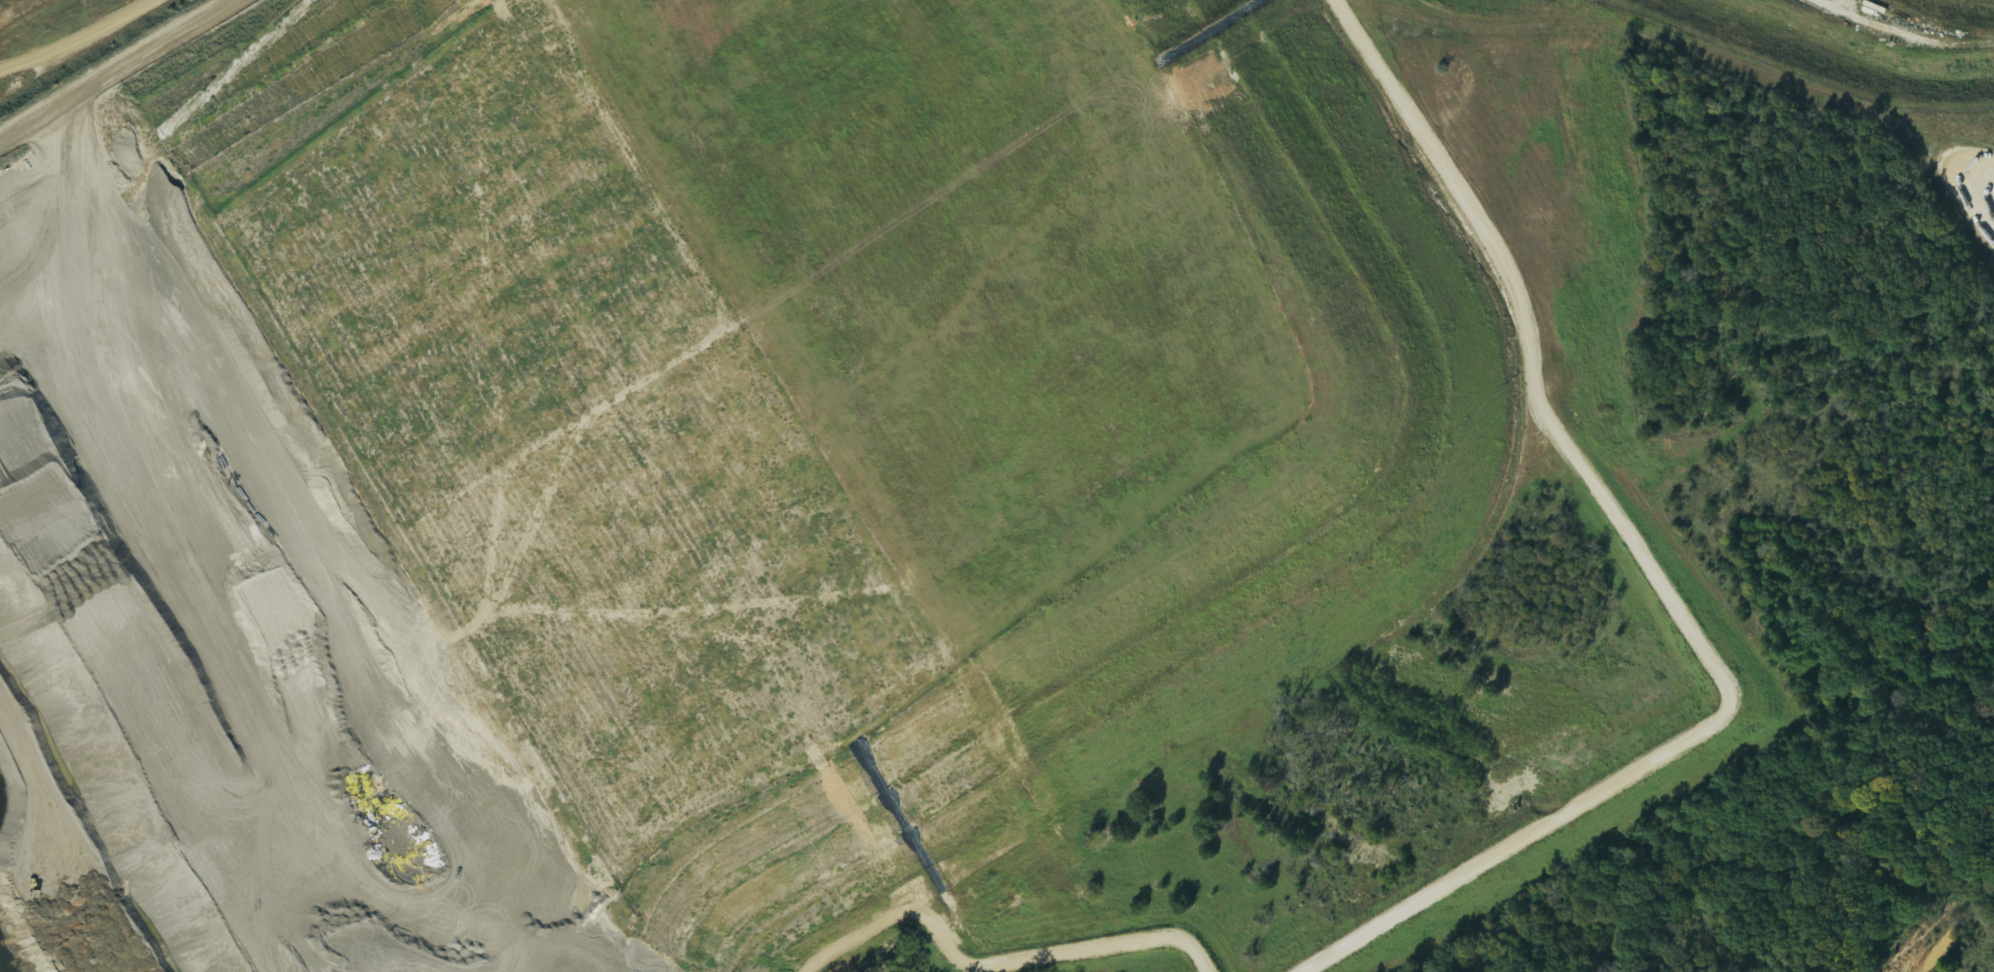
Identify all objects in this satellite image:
power plant: (973, 475)

